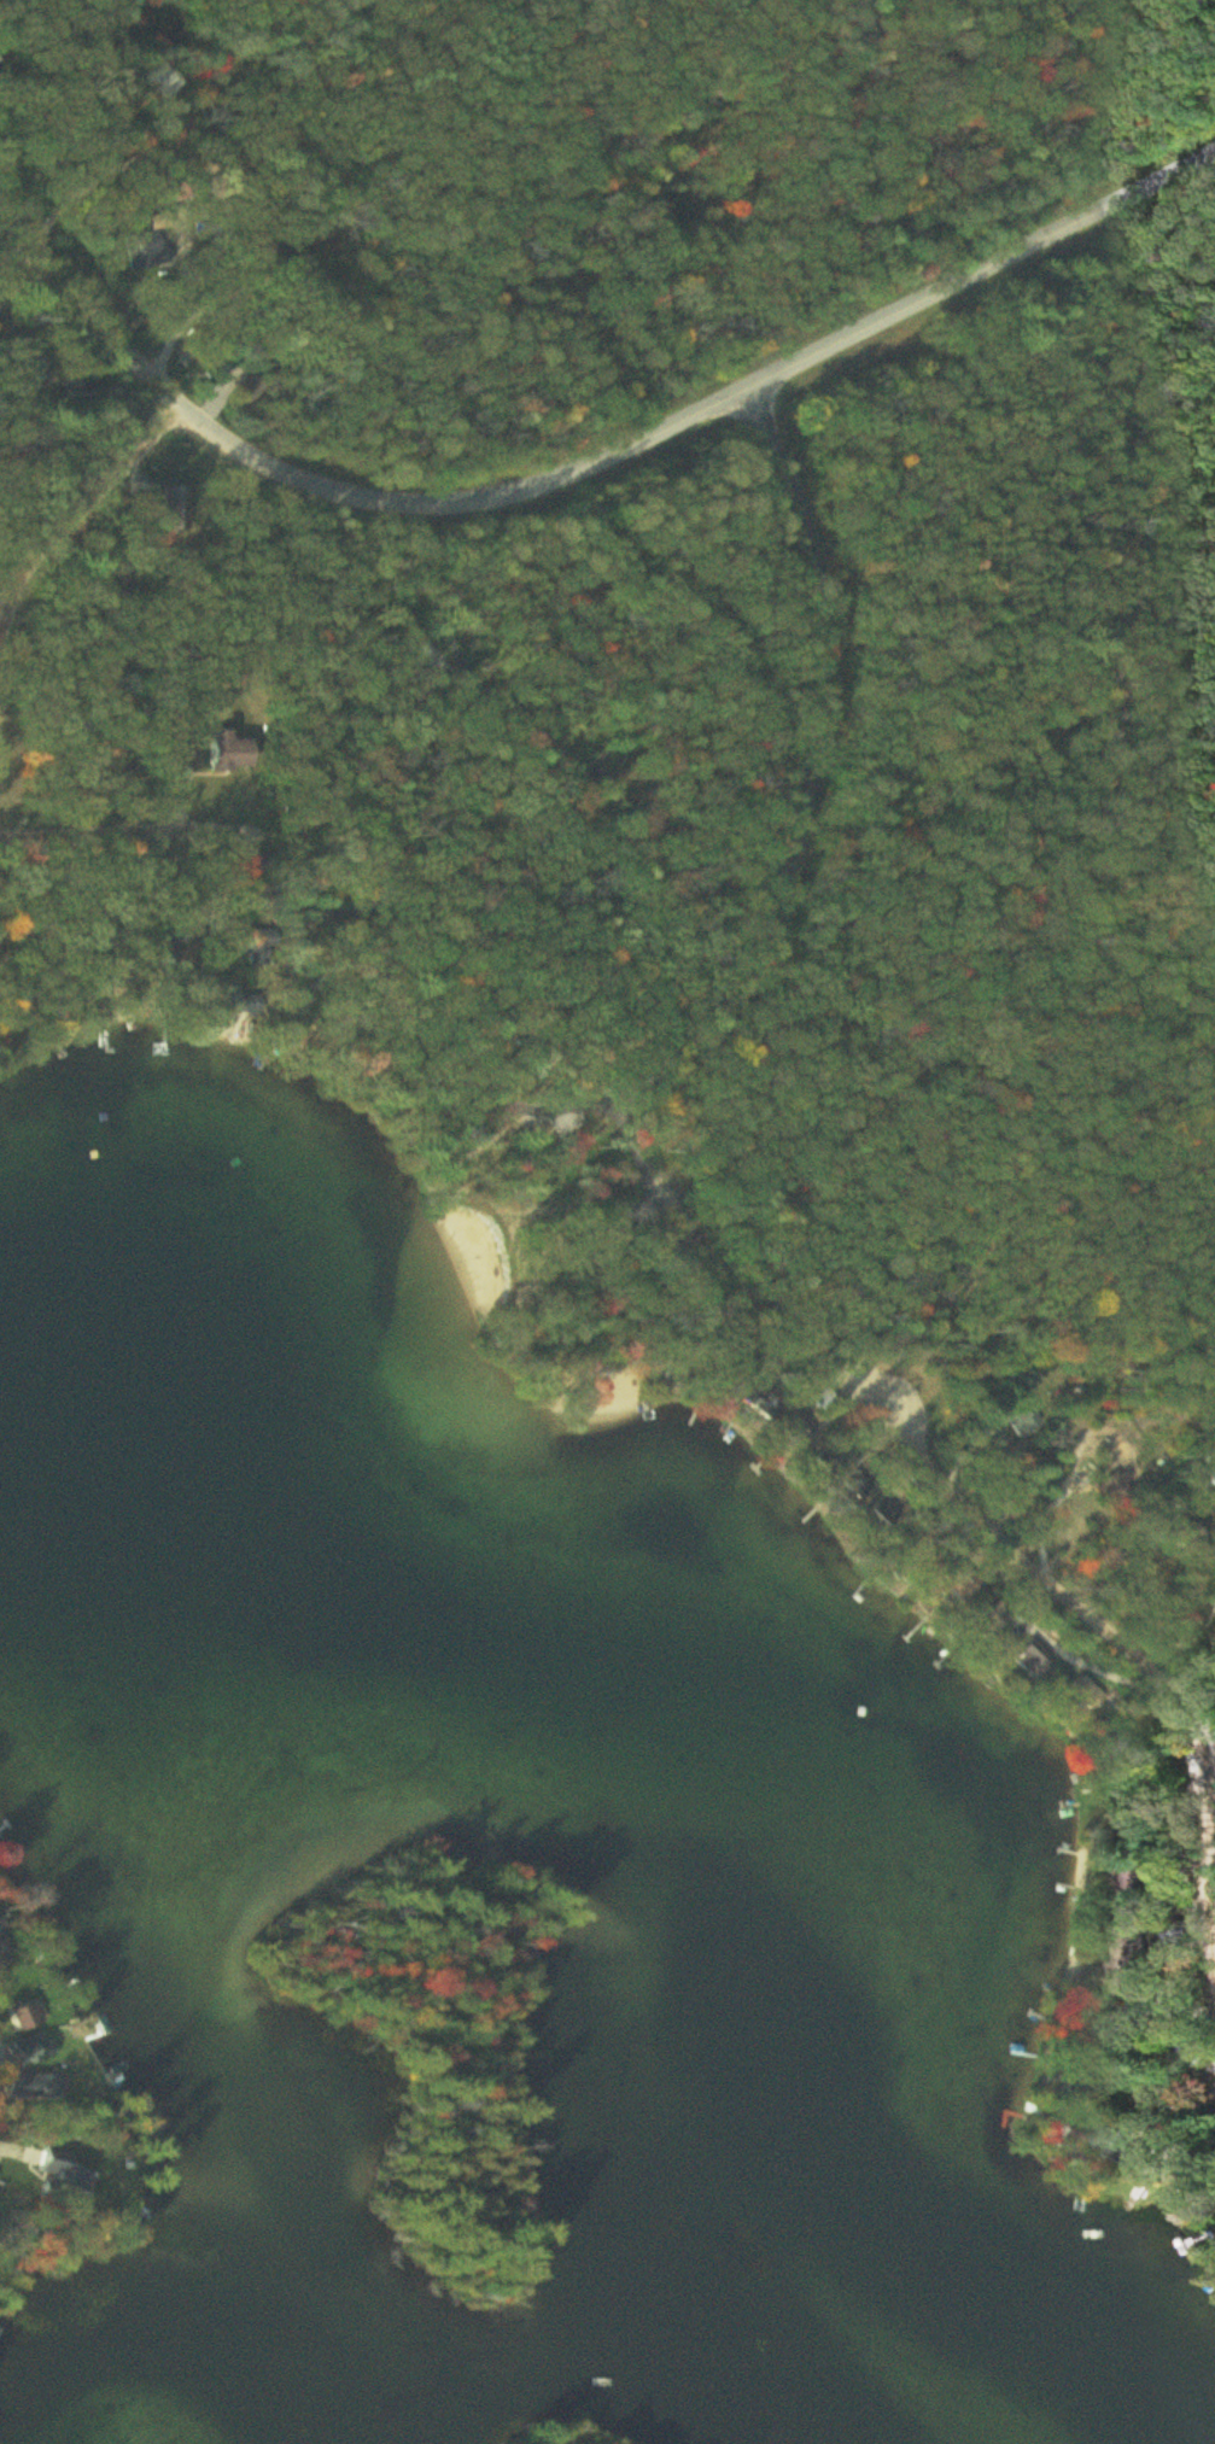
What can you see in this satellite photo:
road: (504, 250)
road: (586, 472)
road: (56, 556)
road: (726, 638)
road: (817, 750)
building: (235, 752)
road: (504, 754)
road: (176, 830)
road: (607, 1083)
building: (826, 1401)
building: (1027, 1423)
building: (1201, 1532)
road: (1022, 1545)
building: (995, 1614)
building: (1040, 1657)
road: (1214, 1737)
building: (1134, 1881)
building: (29, 2017)
building: (37, 2052)
building: (41, 2086)

